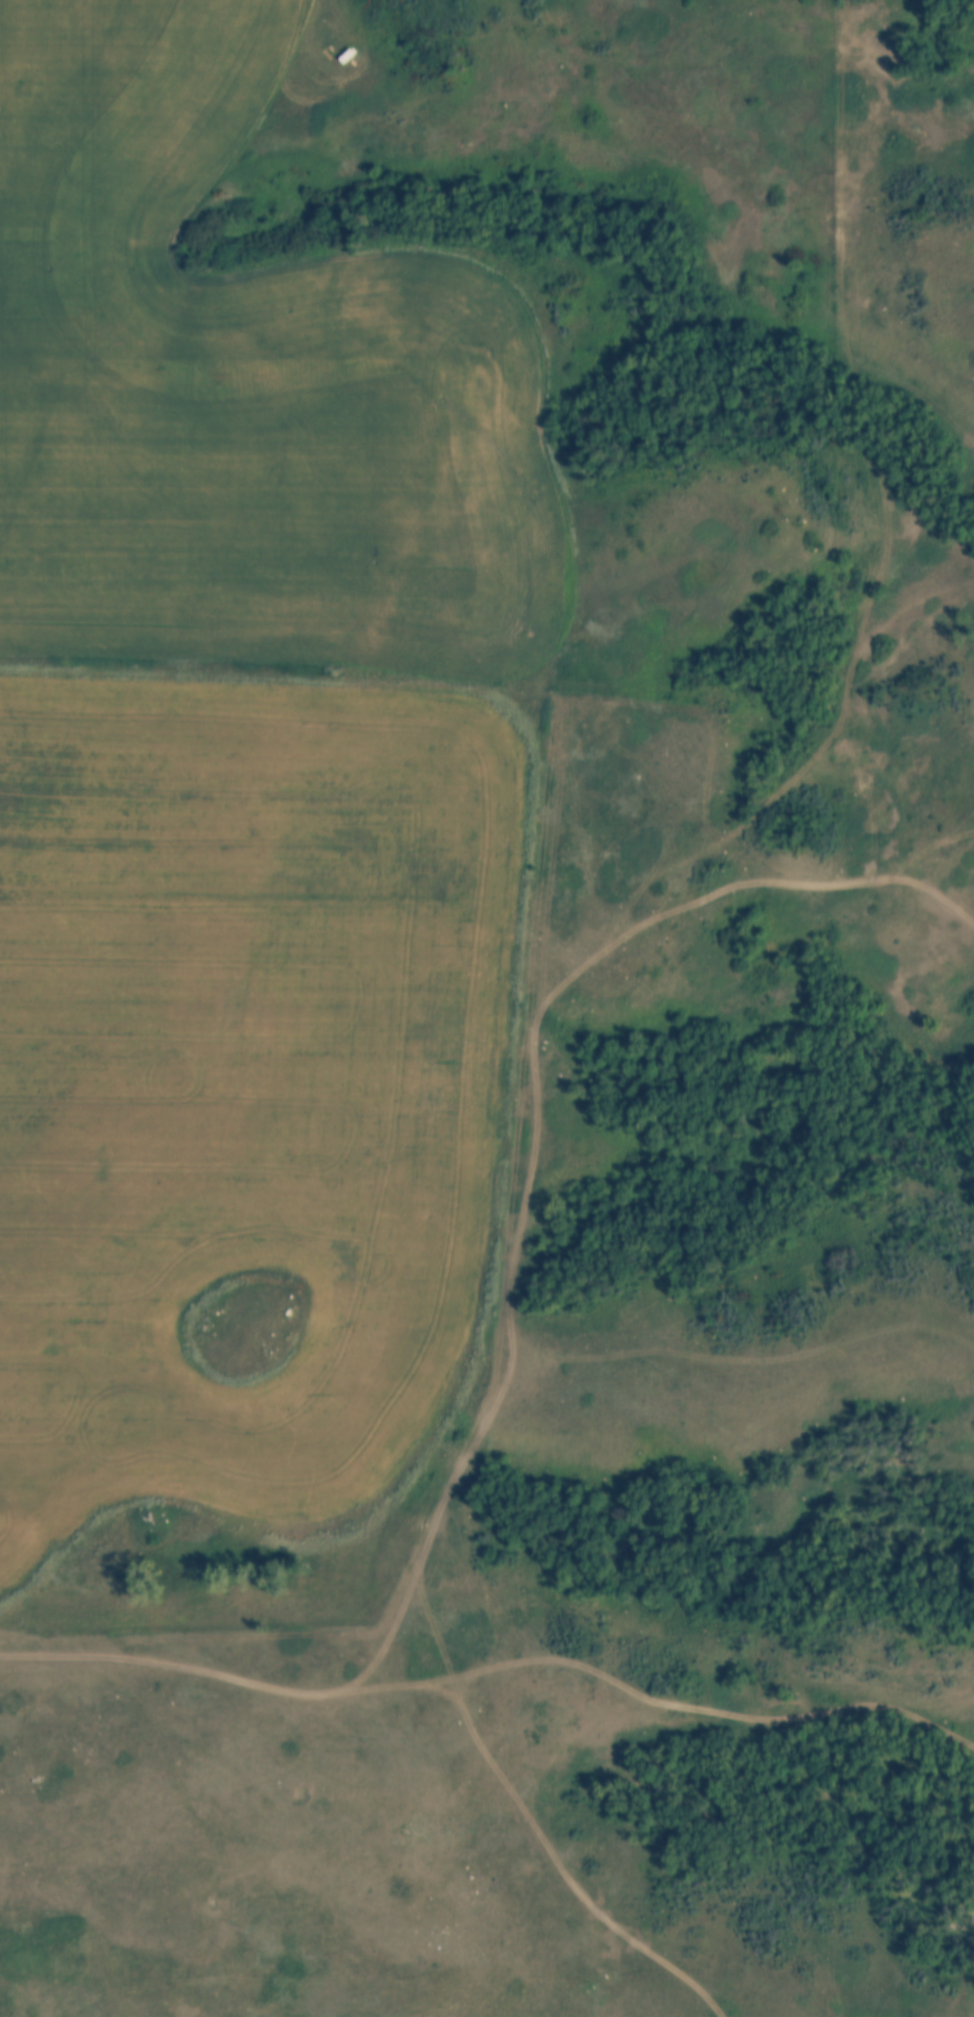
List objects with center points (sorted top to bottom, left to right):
road: (439, 1691)

